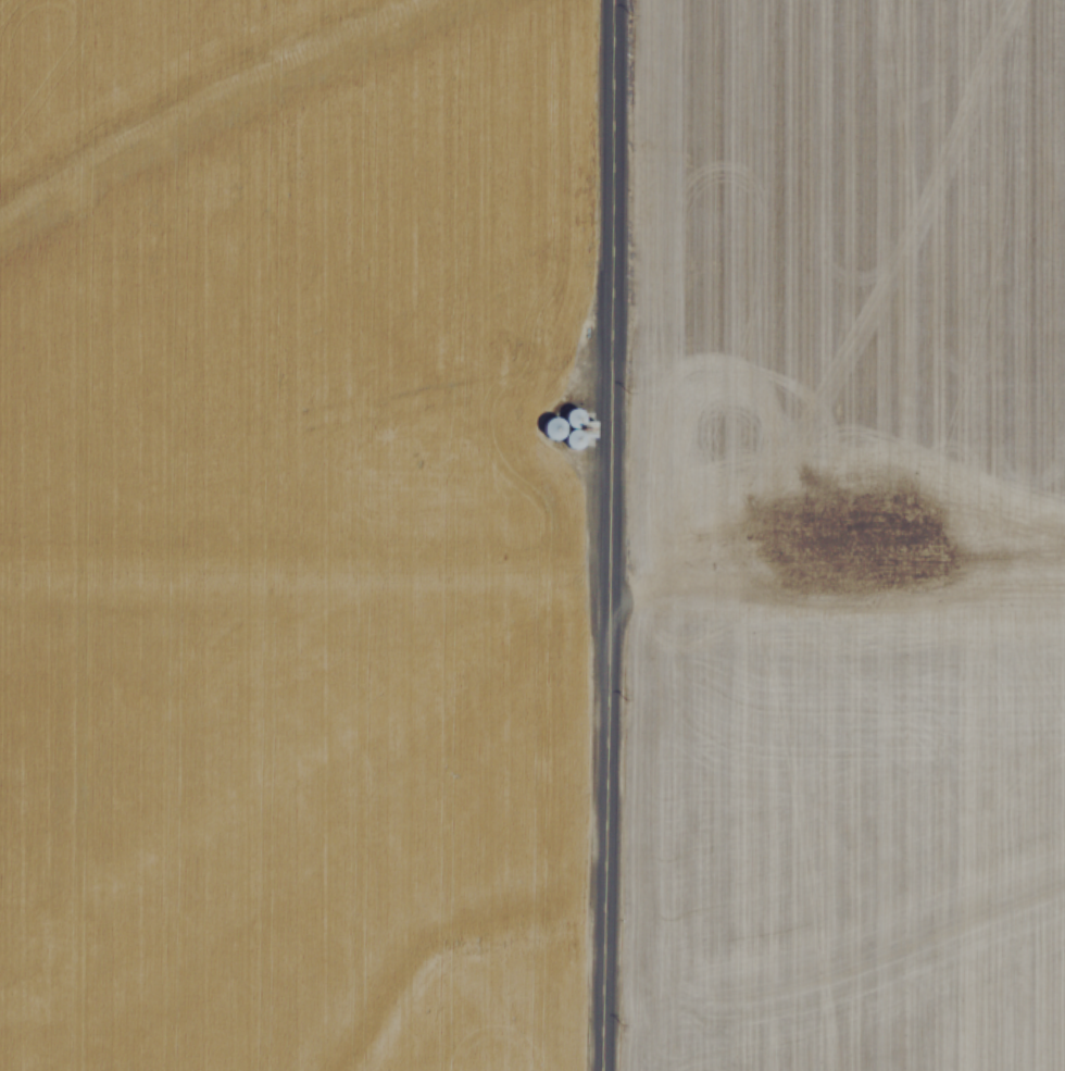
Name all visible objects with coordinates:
road: (605, 535)

